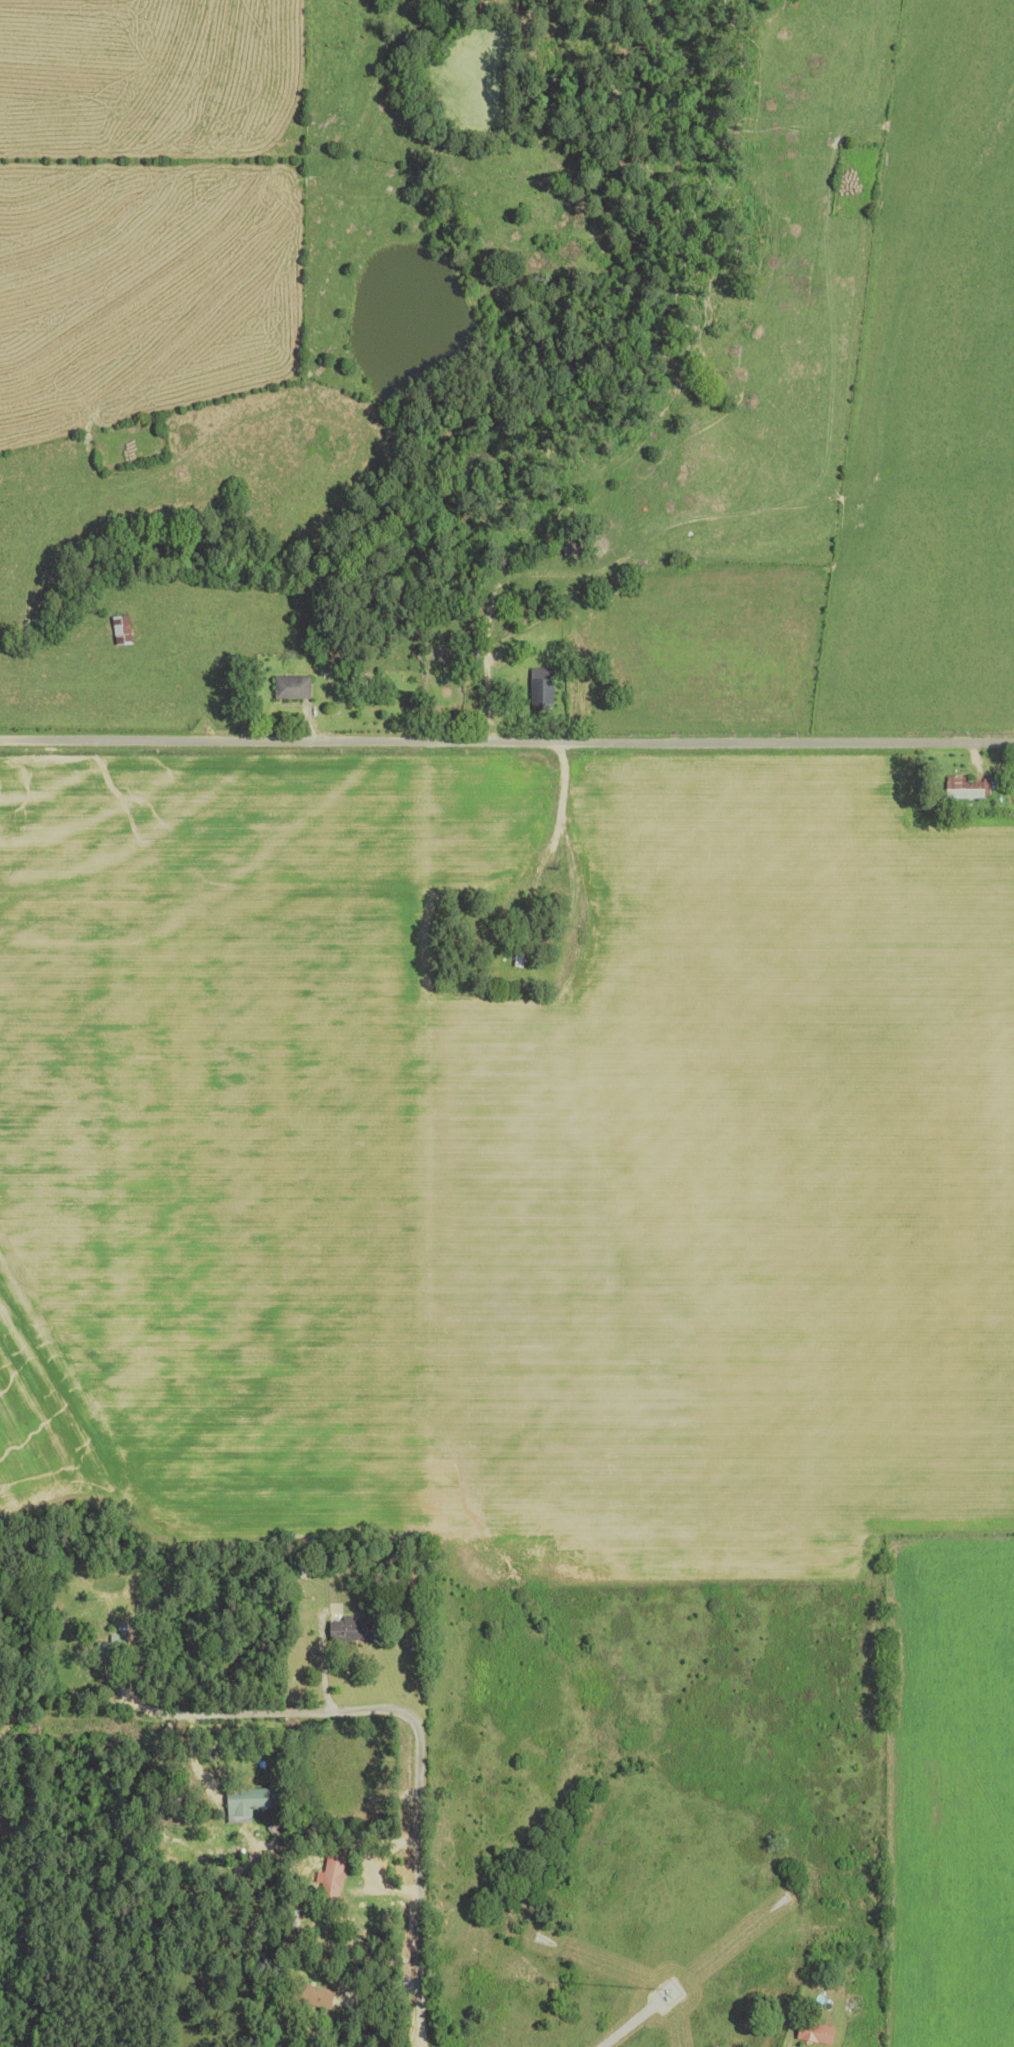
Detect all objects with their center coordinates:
building: (117, 632)
building: (287, 689)
building: (537, 695)
road: (507, 753)
building: (962, 790)
building: (513, 954)
building: (341, 1631)
road: (425, 1712)
building: (239, 1803)
building: (325, 1879)
building: (302, 1996)
building: (811, 2034)

